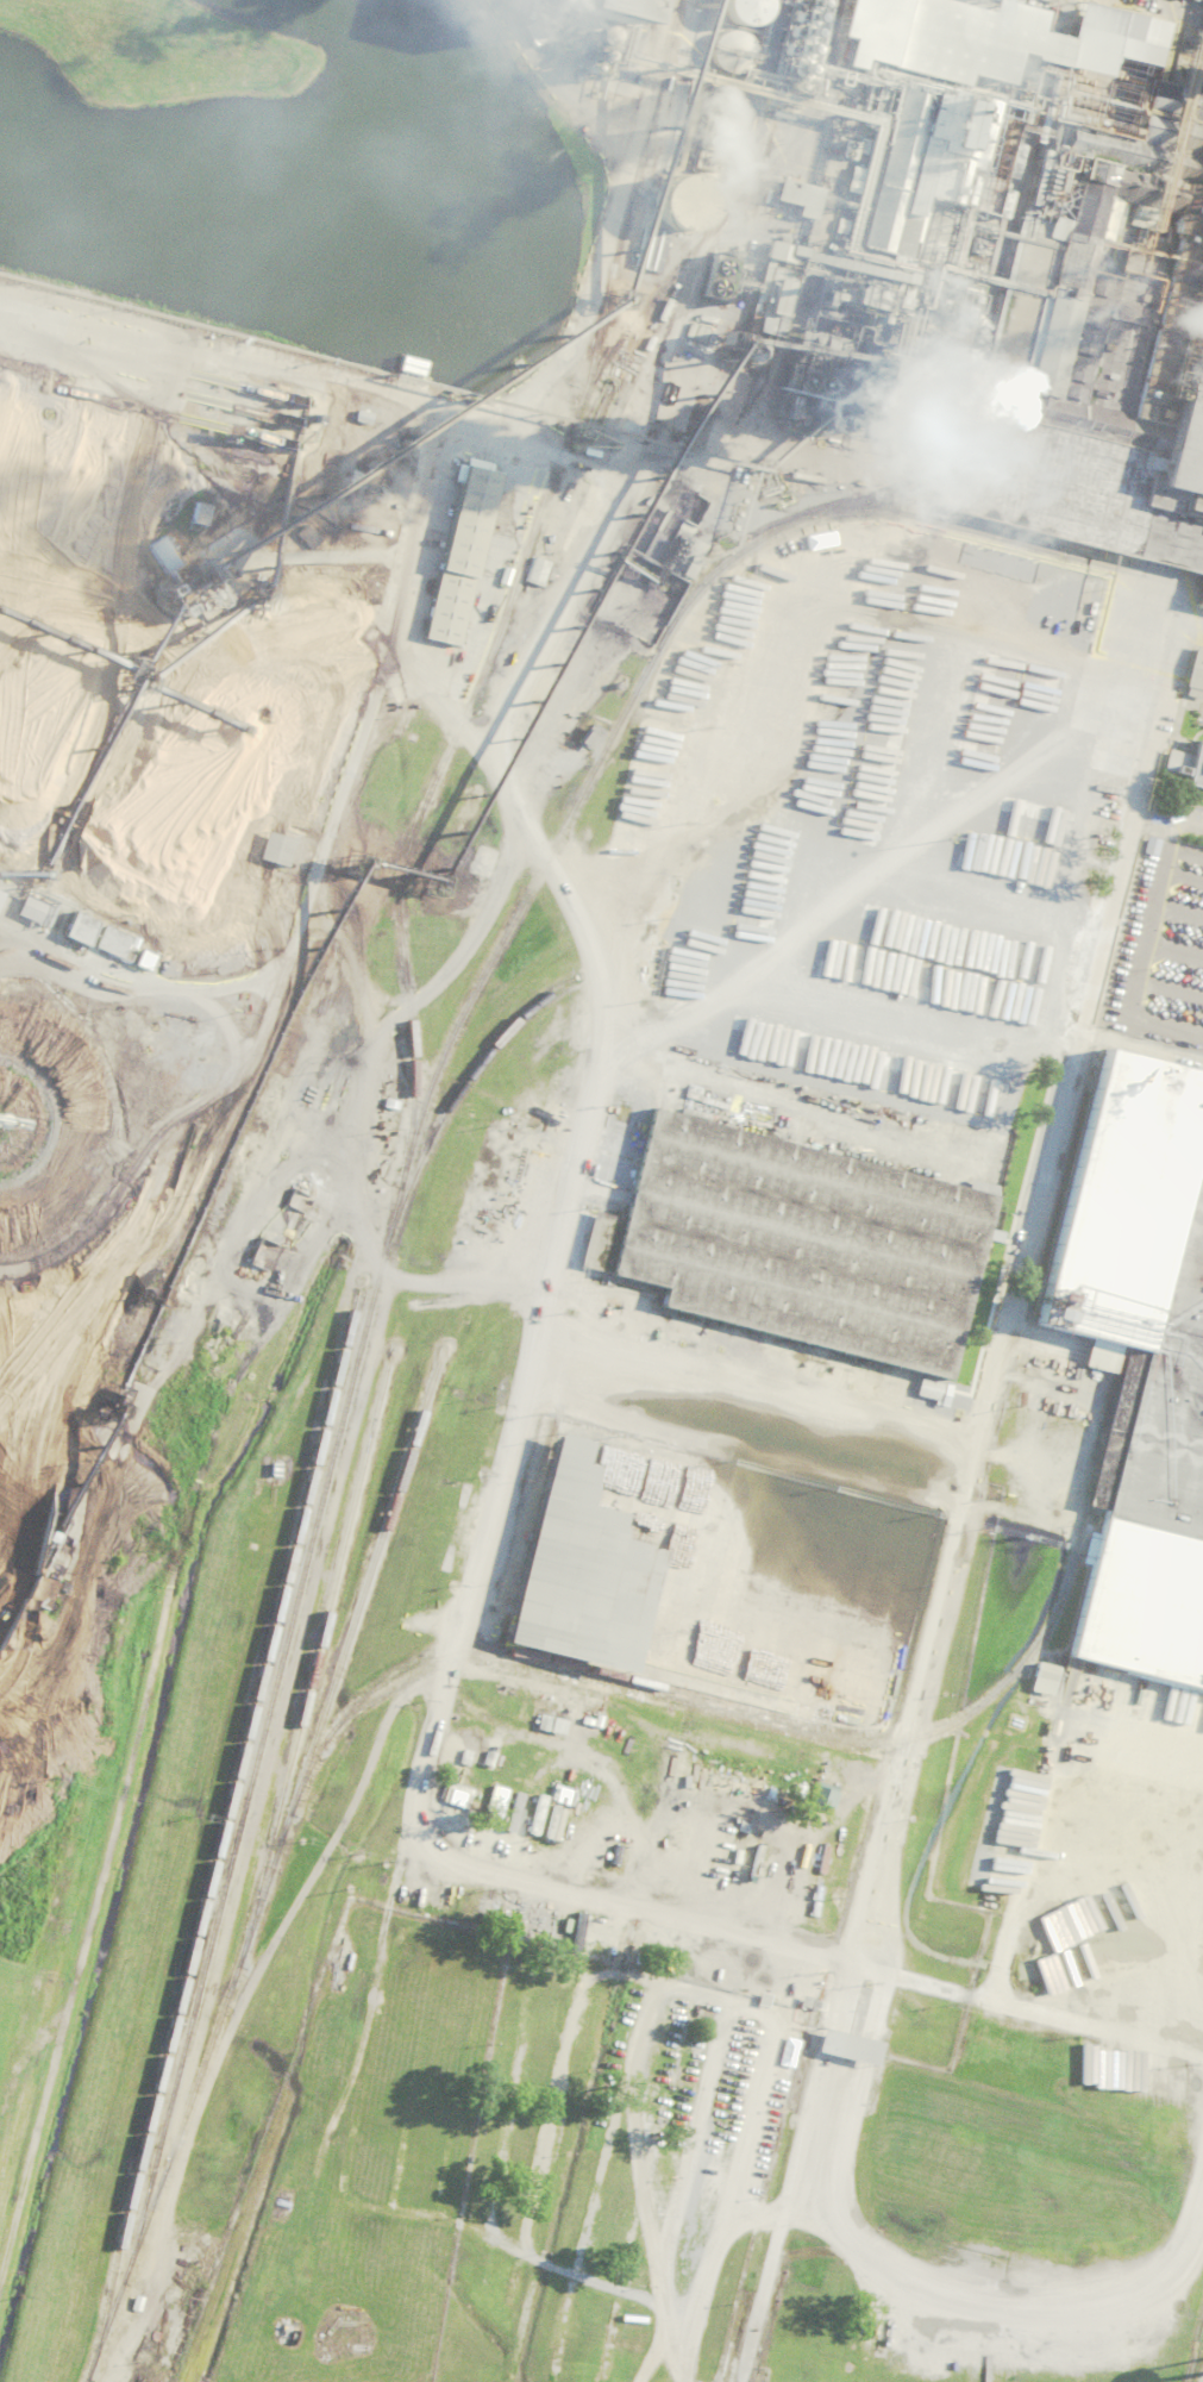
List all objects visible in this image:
railway: (701, 233)
road: (471, 411)
railway: (915, 473)
railway: (942, 504)
railway: (1016, 542)
railway: (1144, 569)
railway: (1171, 583)
railway: (509, 593)
road: (1141, 1057)
railway: (451, 1099)
railway: (386, 1240)
road: (733, 1446)
road: (963, 1500)
railway: (363, 1588)
railway: (312, 1665)
railway: (931, 1730)
railway: (318, 1748)
railway: (218, 1838)
road: (389, 1915)
road: (804, 1953)

